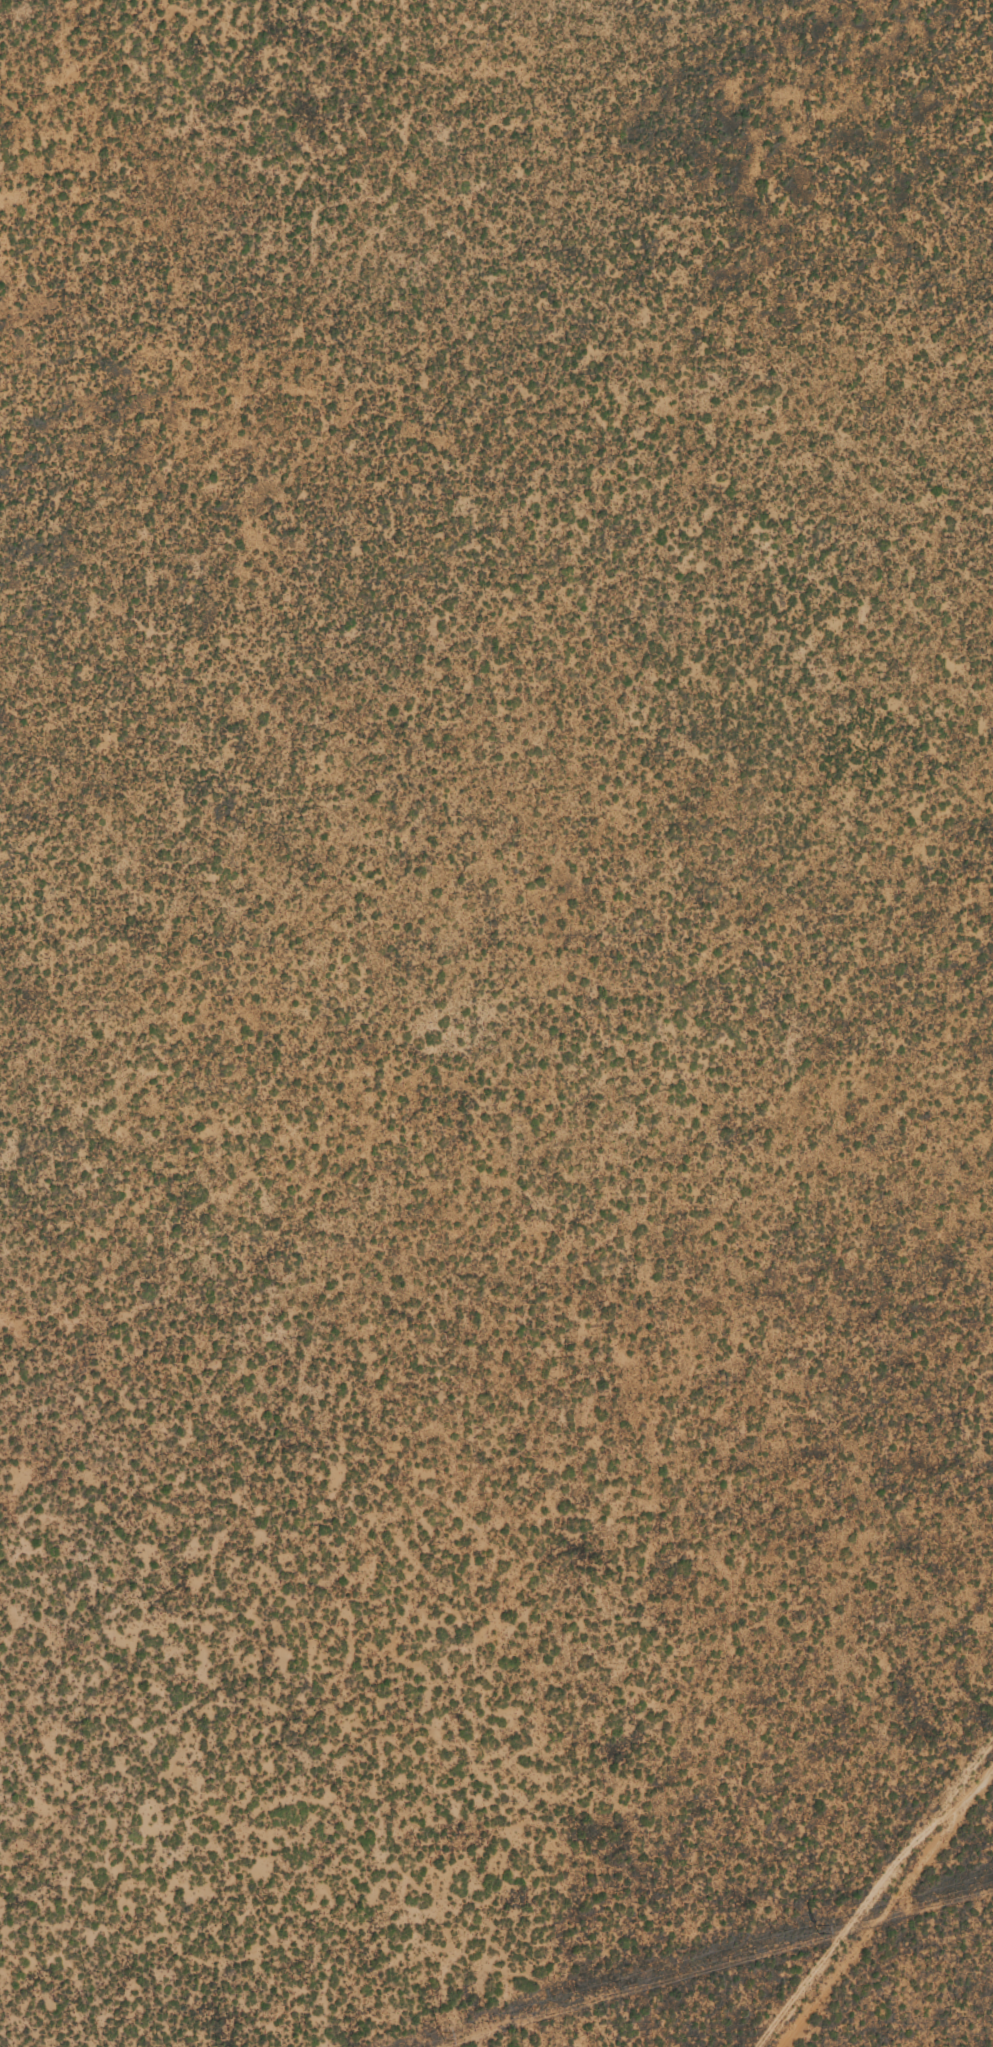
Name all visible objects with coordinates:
power tower: (819, 1929)
power tower: (445, 2035)

